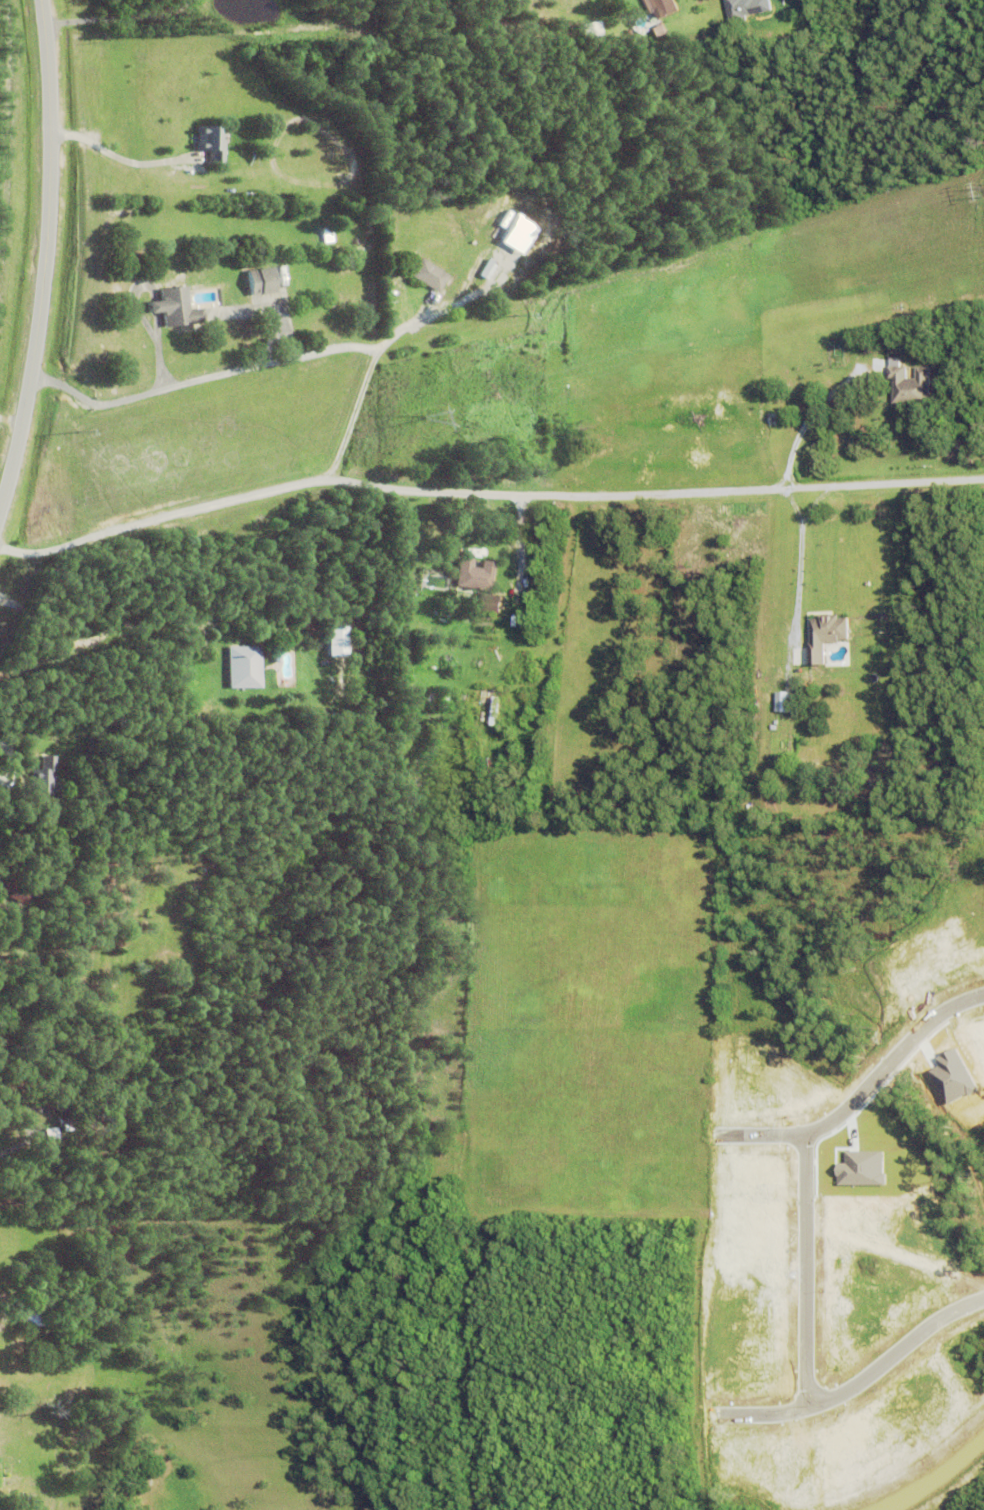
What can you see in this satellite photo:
building: (661, 8)
building: (745, 9)
road: (123, 18)
building: (590, 30)
building: (658, 31)
building: (212, 144)
road: (121, 154)
building: (249, 197)
building: (515, 234)
building: (328, 236)
road: (55, 259)
building: (488, 270)
building: (430, 276)
building: (262, 283)
road: (156, 309)
building: (177, 310)
road: (145, 323)
road: (157, 331)
road: (267, 363)
building: (906, 383)
building: (541, 416)
power tower: (432, 418)
road: (807, 424)
road: (485, 491)
road: (813, 506)
road: (791, 508)
building: (397, 571)
building: (476, 577)
road: (796, 587)
building: (489, 605)
building: (823, 635)
road: (92, 639)
building: (337, 644)
building: (245, 670)
building: (411, 701)
building: (780, 701)
building: (454, 704)
building: (175, 710)
building: (487, 710)
building: (91, 747)
building: (45, 779)
building: (16, 889)
building: (440, 1083)
road: (863, 1092)
building: (69, 1109)
road: (808, 1270)
building: (2, 1306)
building: (34, 1315)
road: (860, 1382)
building: (1, 1482)
building: (22, 1500)

